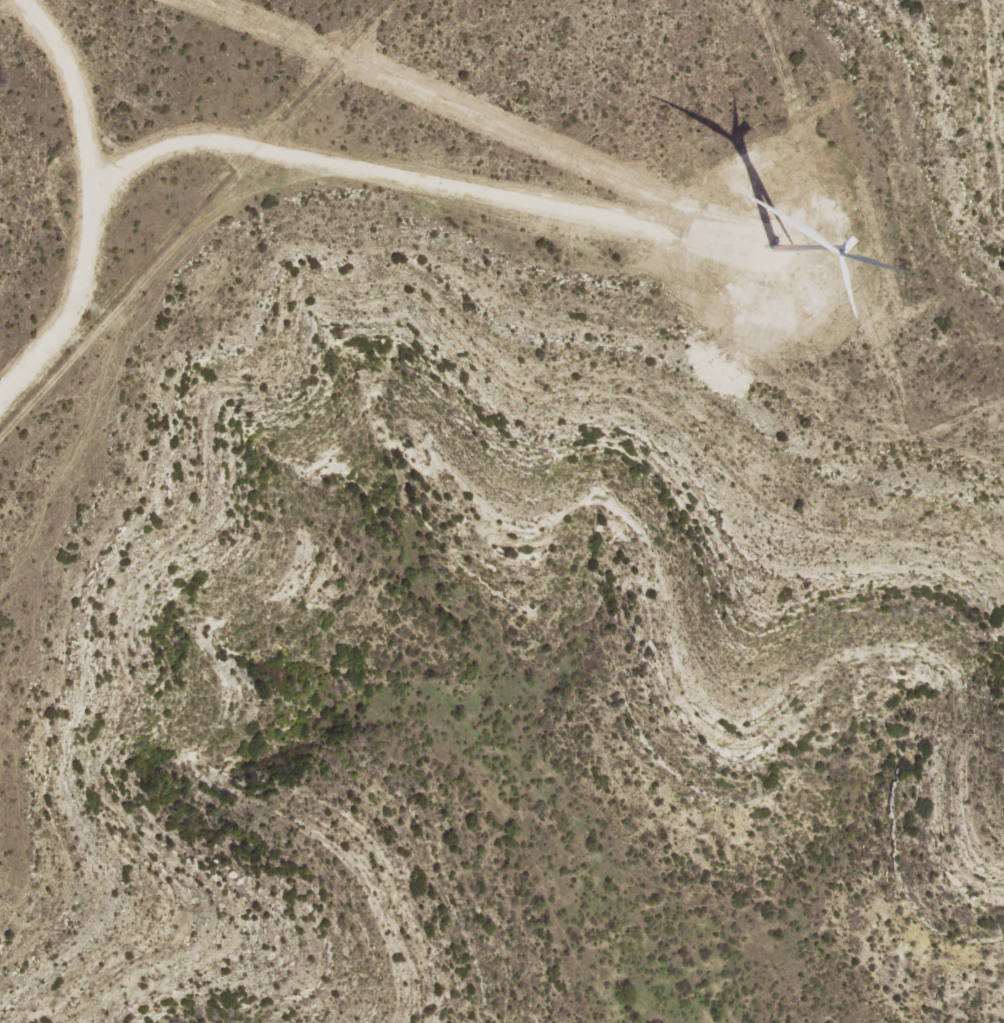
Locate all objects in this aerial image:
wind turbine: (770, 241)

